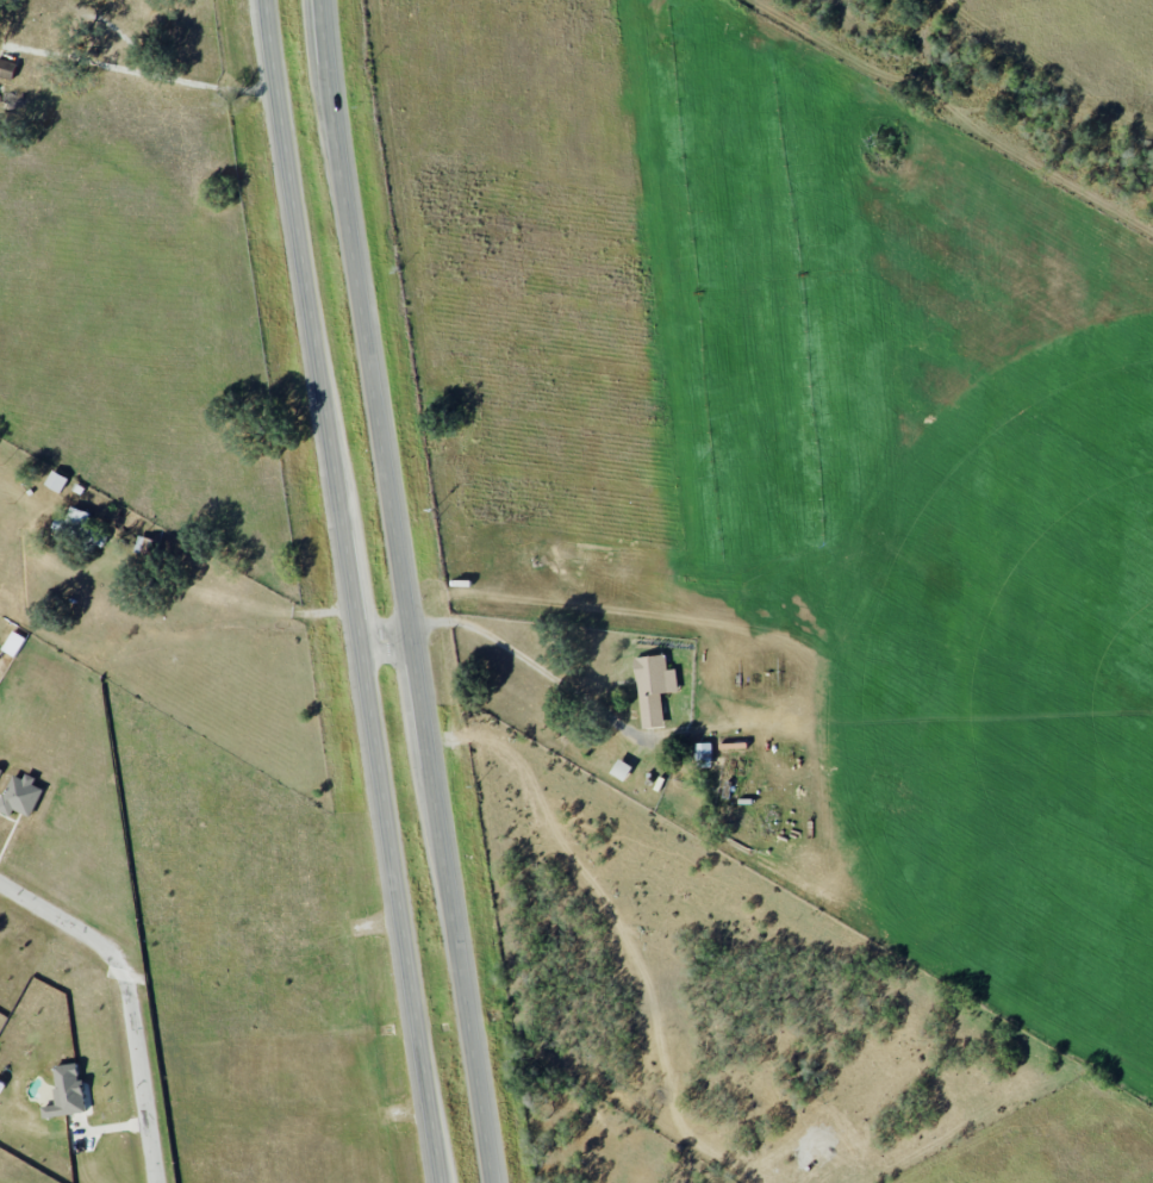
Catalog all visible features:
building: (7, 69)
road: (150, 74)
building: (56, 481)
building: (77, 522)
road: (354, 591)
road: (404, 591)
road: (386, 639)
building: (13, 643)
road: (532, 662)
building: (654, 689)
building: (703, 754)
building: (621, 770)
building: (20, 796)
road: (130, 1000)
building: (66, 1091)

